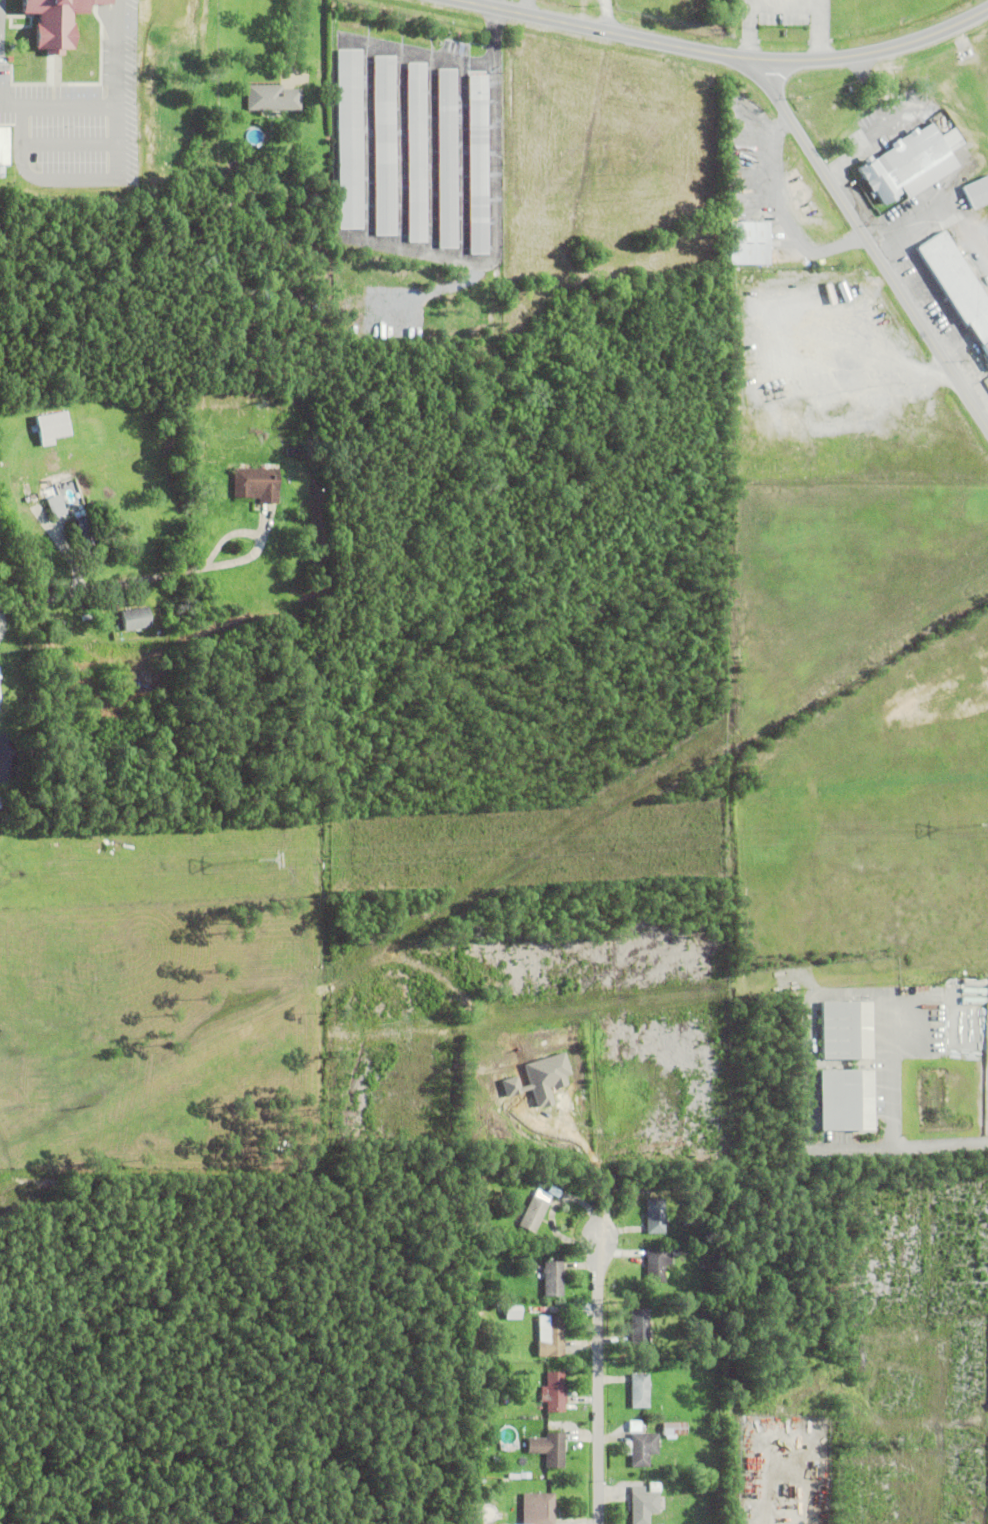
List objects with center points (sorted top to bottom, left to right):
building: (102, 1)
road: (102, 1)
road: (107, 17)
road: (614, 19)
building: (59, 22)
road: (411, 52)
road: (726, 53)
building: (272, 96)
road: (112, 108)
parking lot: (82, 123)
building: (346, 137)
road: (364, 141)
building: (736, 141)
road: (68, 143)
building: (381, 145)
building: (3, 147)
road: (396, 148)
building: (412, 152)
road: (428, 155)
building: (444, 157)
building: (744, 158)
building: (911, 160)
road: (459, 161)
building: (474, 165)
road: (69, 180)
building: (977, 190)
road: (489, 211)
building: (953, 231)
building: (748, 240)
road: (869, 241)
building: (840, 276)
building: (957, 282)
road: (433, 293)
building: (267, 296)
building: (224, 301)
building: (52, 425)
building: (311, 444)
building: (293, 450)
building: (48, 471)
building: (257, 483)
building: (58, 499)
building: (83, 529)
road: (96, 588)
building: (95, 612)
building: (135, 617)
building: (88, 646)
building: (1, 688)
building: (1, 803)
power tower: (980, 827)
power tower: (256, 861)
road: (806, 1003)
building: (839, 1029)
building: (838, 1099)
road: (935, 1145)
road: (92, 1179)
building: (535, 1211)
building: (656, 1216)
building: (676, 1248)
building: (657, 1265)
building: (526, 1279)
building: (553, 1279)
building: (637, 1328)
building: (555, 1336)
building: (471, 1361)
road: (599, 1369)
building: (640, 1392)
building: (554, 1393)
building: (520, 1406)
building: (674, 1429)
building: (644, 1449)
building: (553, 1450)
road: (167, 1461)
building: (655, 1488)
building: (644, 1505)
building: (539, 1509)

